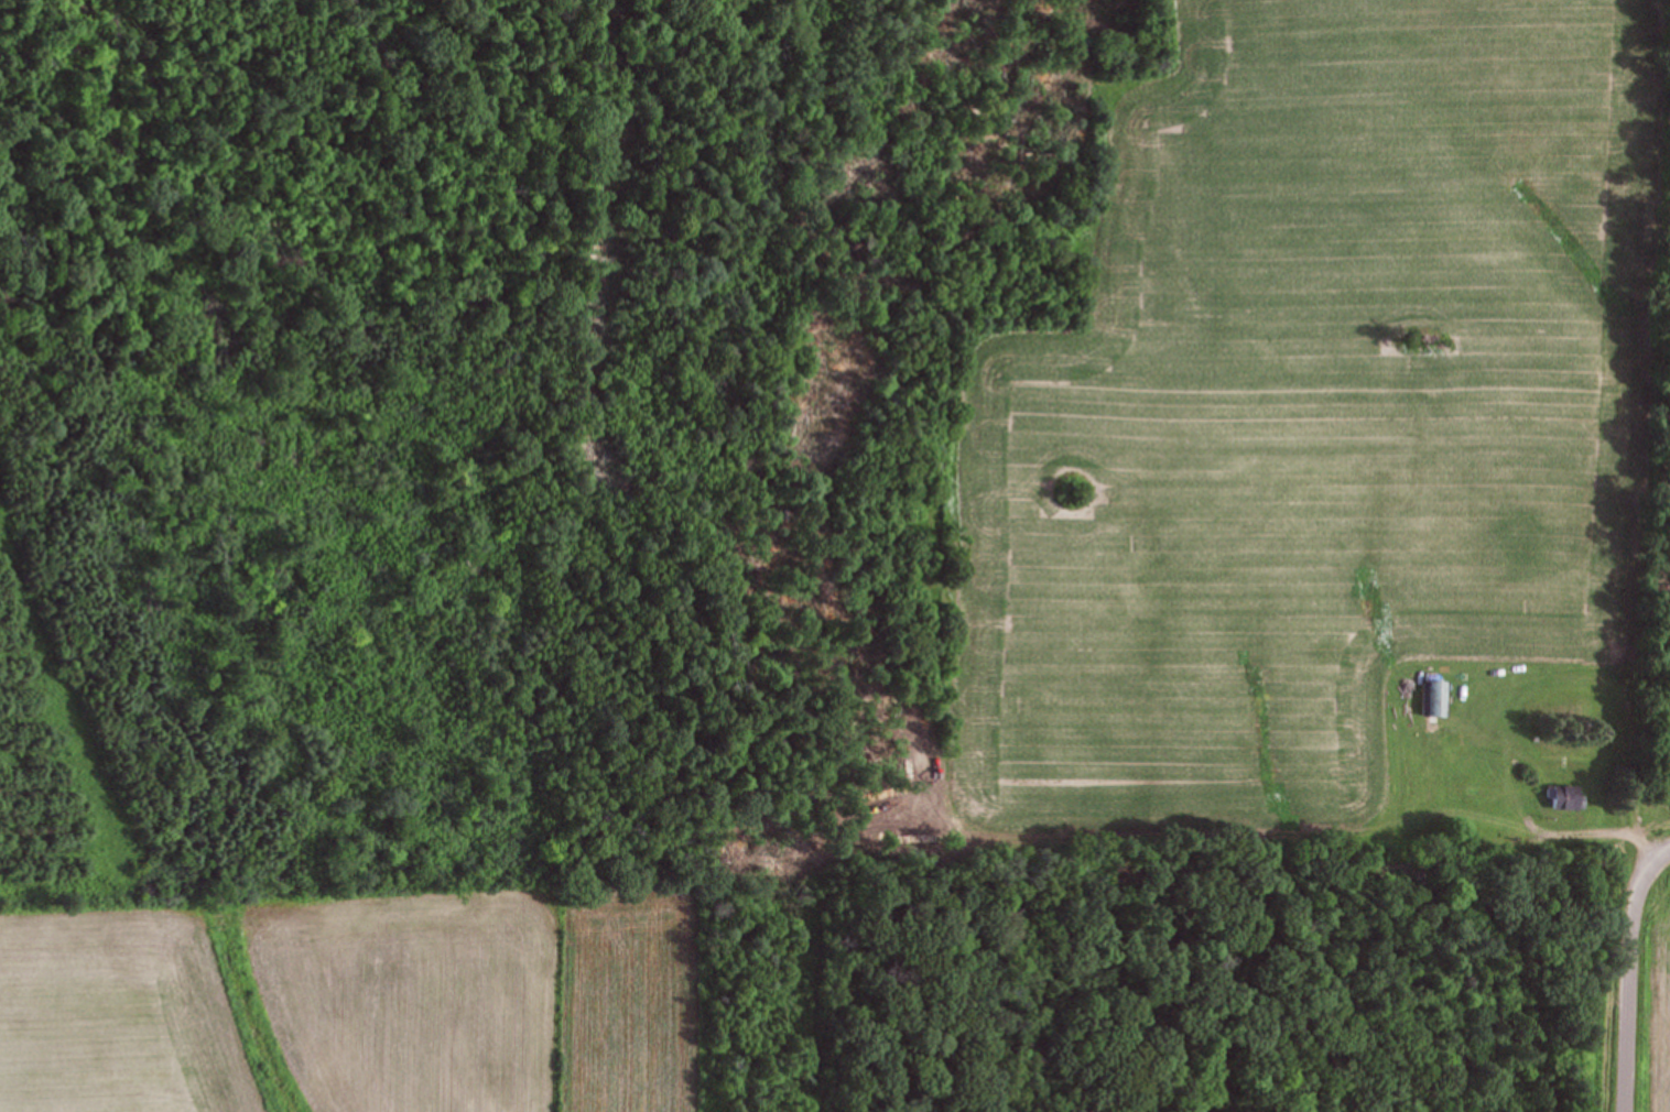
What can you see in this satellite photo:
building: (1436, 699)
building: (1563, 798)
road: (1626, 972)

